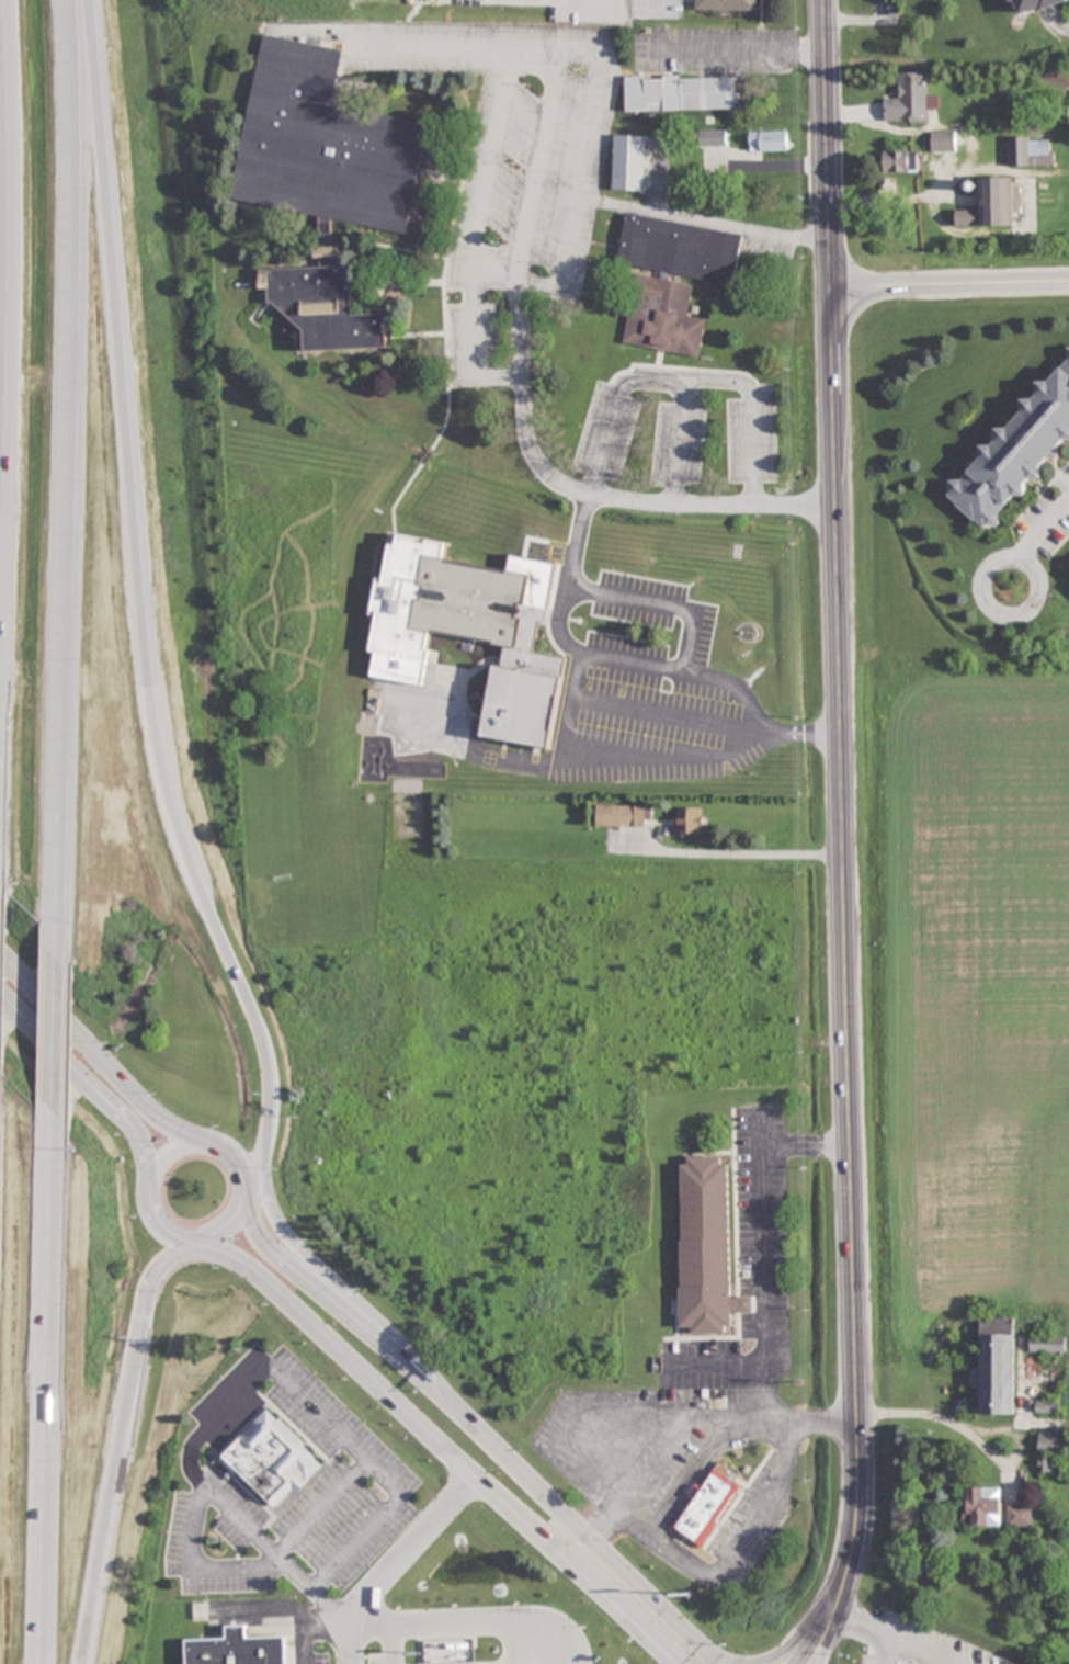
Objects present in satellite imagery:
road: (656, 4)
building: (726, 5)
building: (1030, 5)
building: (894, 9)
road: (570, 45)
road: (458, 47)
road: (741, 48)
building: (682, 93)
building: (911, 100)
building: (714, 137)
building: (771, 140)
road: (492, 142)
building: (944, 142)
building: (325, 146)
building: (1031, 151)
building: (899, 161)
building: (630, 162)
road: (537, 170)
road: (582, 174)
building: (992, 205)
building: (681, 249)
road: (482, 254)
road: (505, 273)
road: (480, 280)
road: (538, 283)
road: (951, 283)
road: (471, 306)
building: (326, 308)
building: (664, 317)
road: (520, 318)
road: (715, 374)
road: (644, 375)
road: (499, 376)
road: (11, 414)
building: (1015, 454)
road: (71, 468)
road: (587, 487)
road: (636, 501)
road: (1045, 530)
road: (981, 591)
road: (659, 603)
road: (144, 605)
road: (559, 622)
building: (471, 631)
road: (565, 739)
road: (842, 800)
building: (624, 815)
building: (691, 820)
crop: (964, 987)
road: (61, 1028)
road: (93, 1060)
road: (84, 1085)
road: (163, 1153)
road: (230, 1158)
road: (243, 1196)
road: (159, 1225)
road: (227, 1226)
building: (707, 1247)
road: (329, 1280)
road: (763, 1280)
building: (1048, 1344)
building: (998, 1366)
road: (252, 1381)
road: (56, 1391)
road: (473, 1429)
road: (121, 1442)
road: (441, 1446)
road: (662, 1446)
building: (1051, 1449)
building: (271, 1461)
building: (982, 1506)
building: (717, 1510)
building: (1020, 1516)
road: (397, 1564)
road: (262, 1570)
road: (868, 1628)
road: (308, 1629)
road: (466, 1631)
road: (825, 1631)
road: (798, 1635)
road: (394, 1648)
building: (238, 1649)
road: (916, 1653)
road: (714, 1661)
road: (718, 1661)

